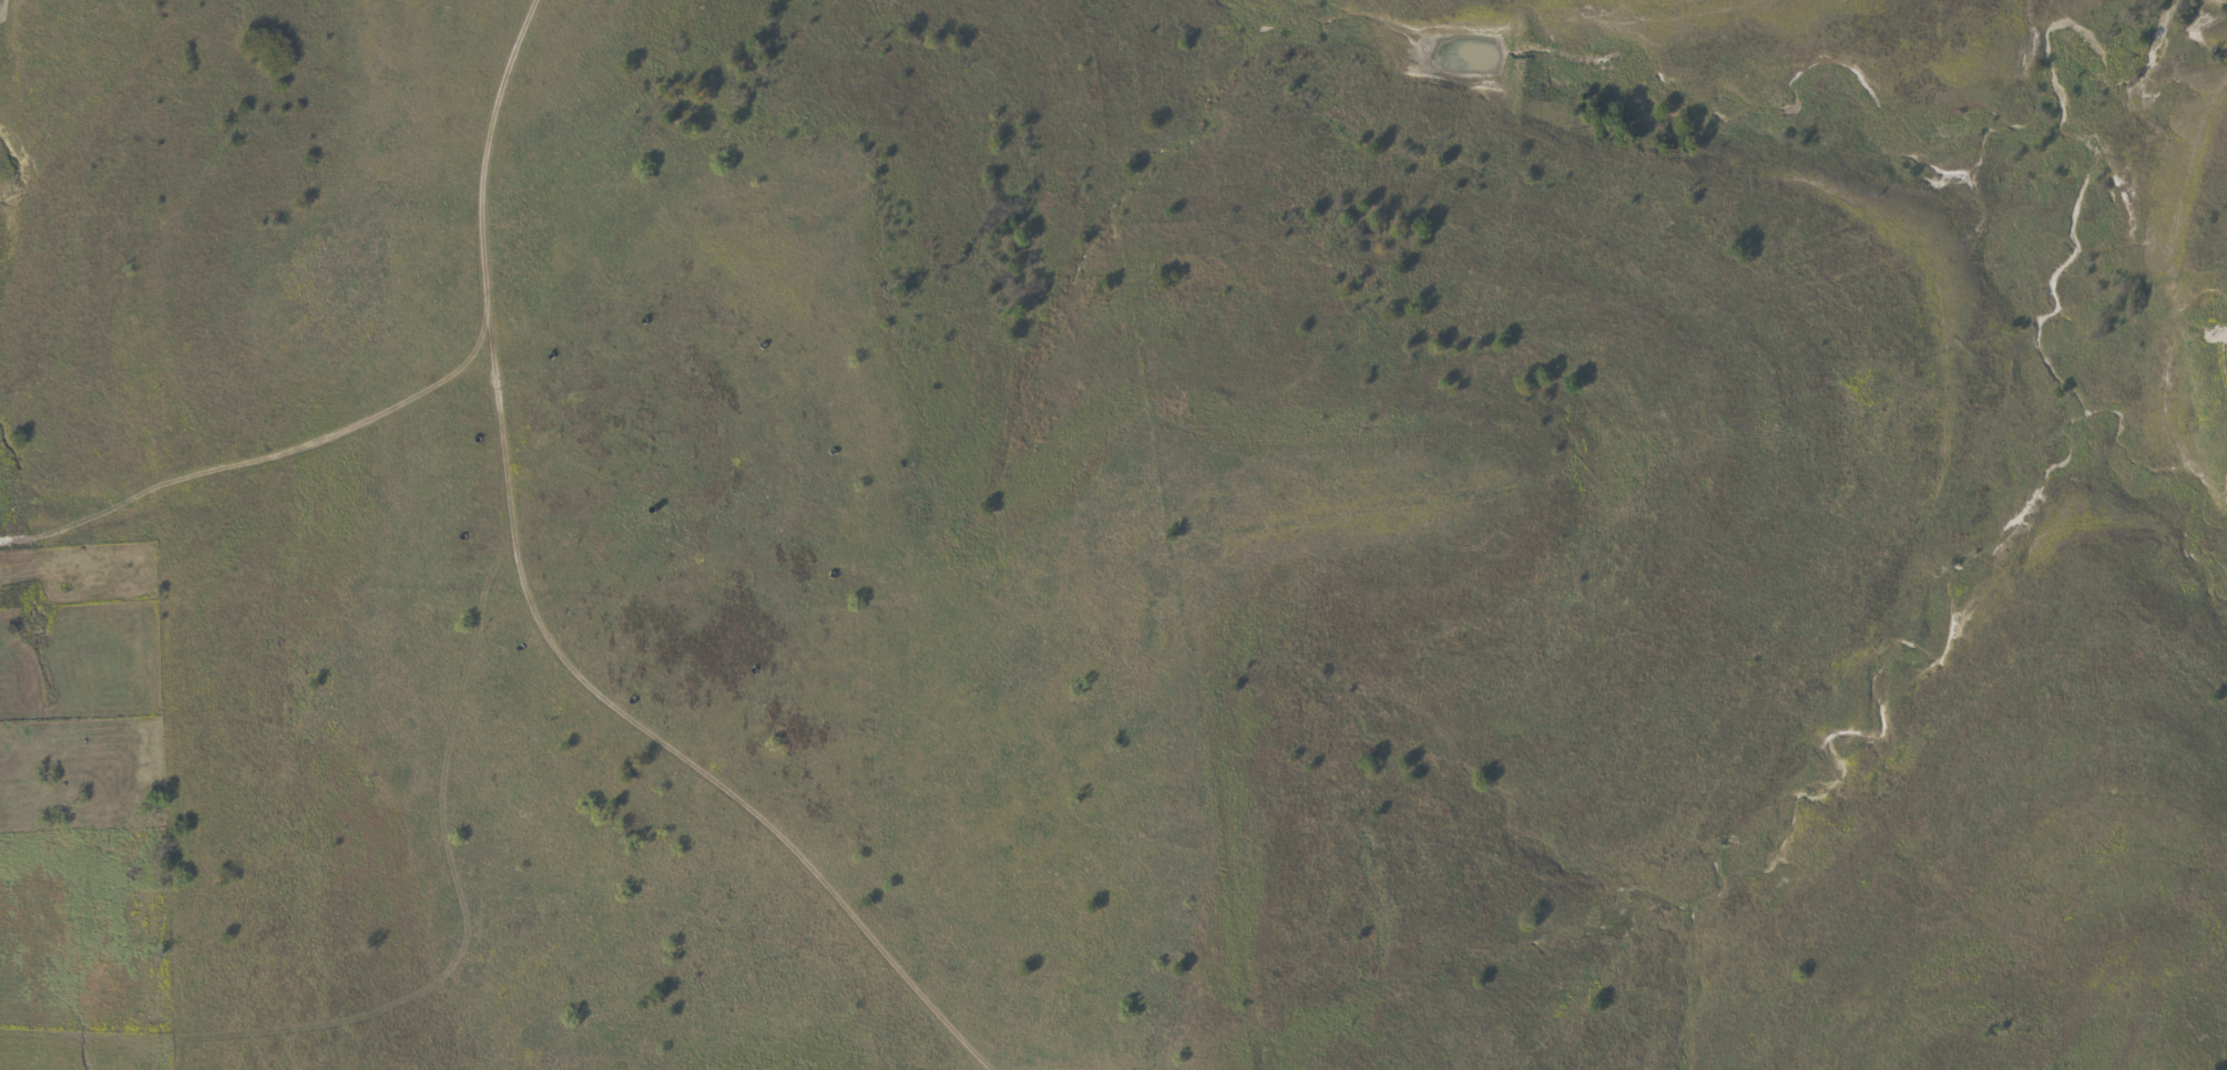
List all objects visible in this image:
road: (346, 410)
road: (487, 491)
road: (607, 745)

